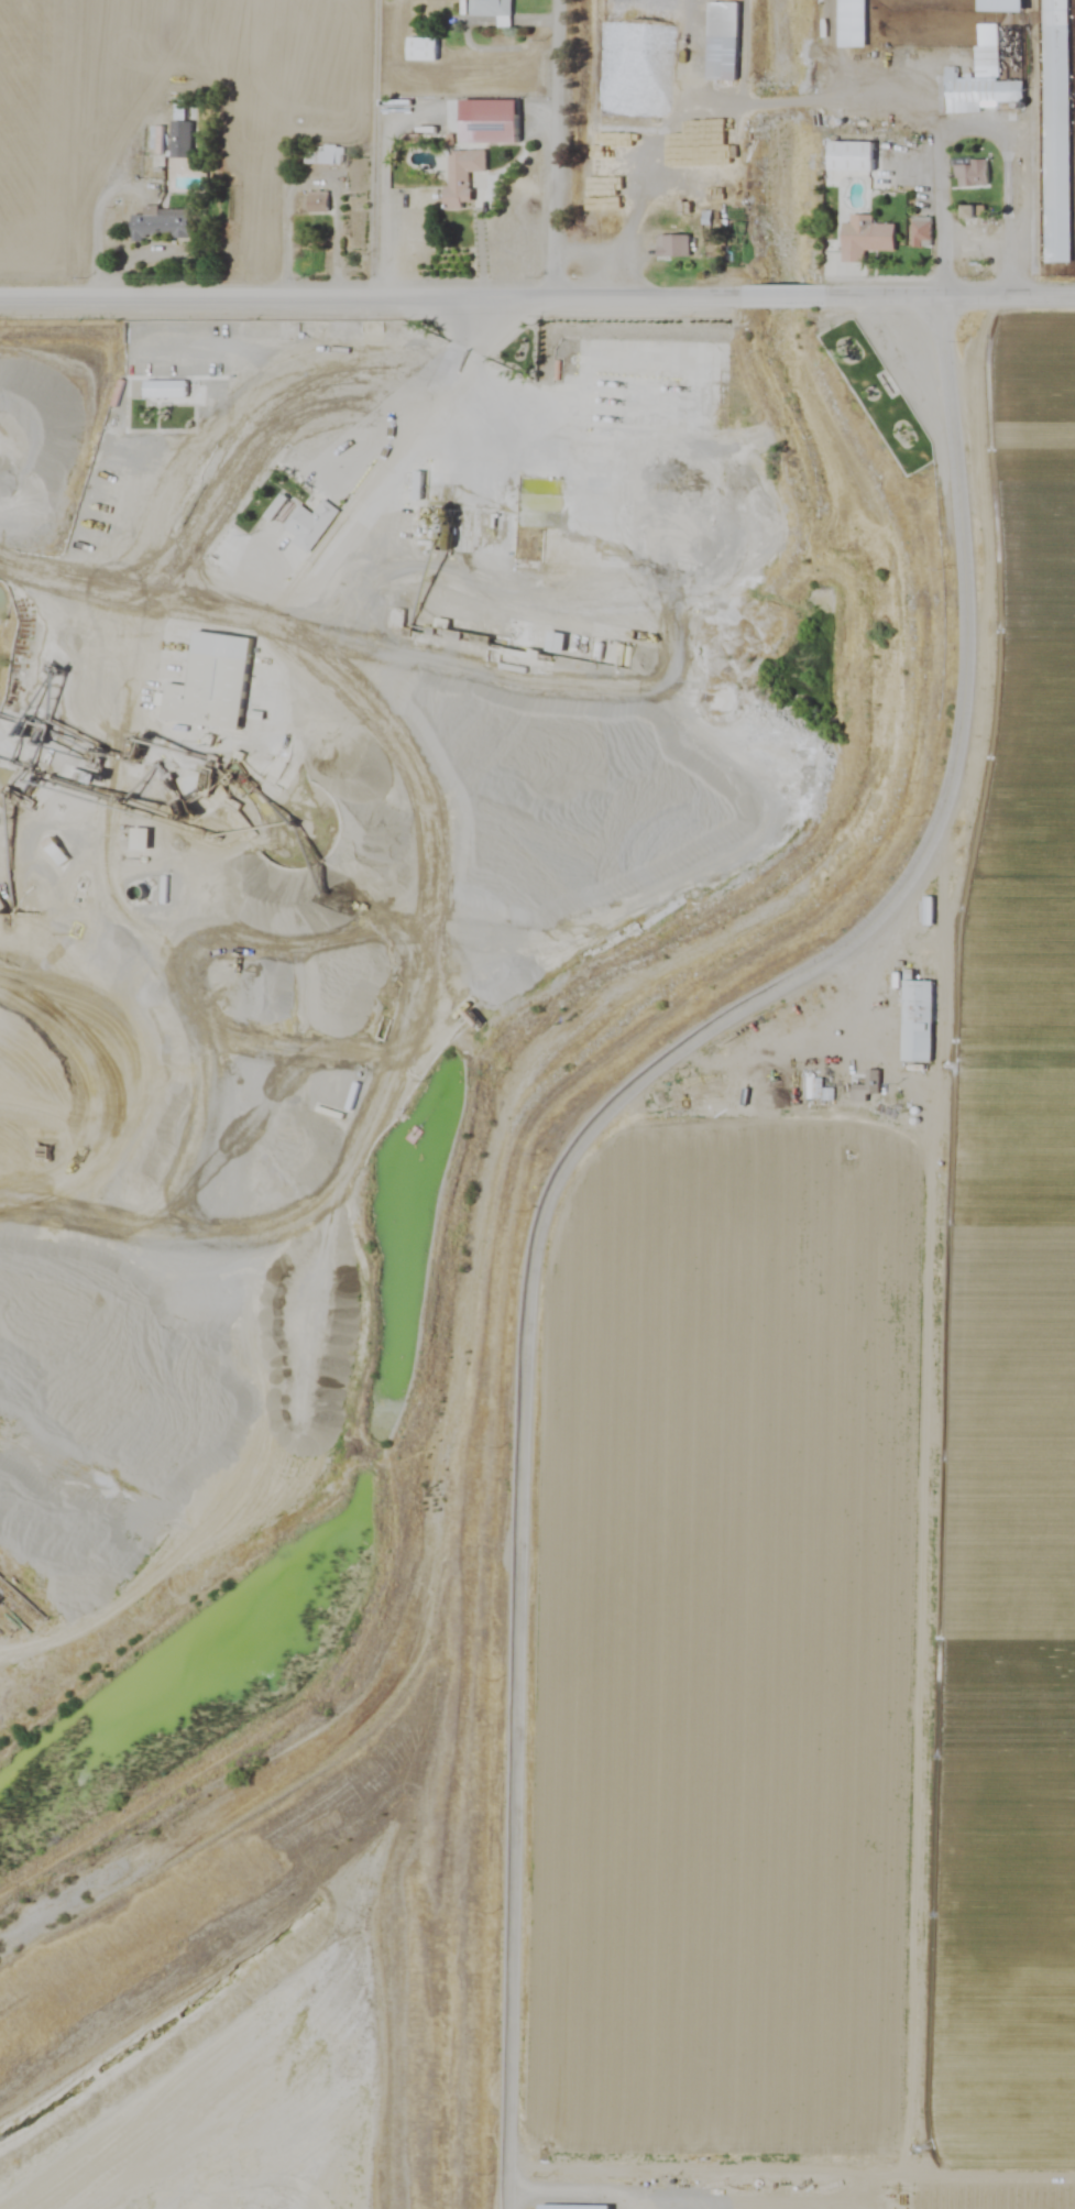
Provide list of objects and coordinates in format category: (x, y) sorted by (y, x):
building: (998, 7)
building: (486, 8)
building: (847, 23)
building: (721, 41)
building: (420, 50)
road: (807, 92)
building: (974, 92)
building: (490, 122)
building: (1055, 131)
crop: (47, 134)
building: (178, 140)
road: (382, 150)
road: (568, 150)
building: (846, 157)
building: (969, 174)
building: (458, 176)
building: (316, 201)
building: (160, 223)
building: (921, 232)
building: (864, 239)
building: (670, 247)
road: (782, 298)
road: (946, 298)
road: (372, 299)
building: (164, 390)
building: (309, 524)
building: (555, 642)
building: (209, 682)
building: (138, 840)
building: (55, 851)
building: (928, 910)
building: (915, 1020)
building: (866, 1086)
building: (349, 1097)
road: (573, 1167)
crop: (805, 1510)
road: (248, 1872)
road: (579, 2181)

